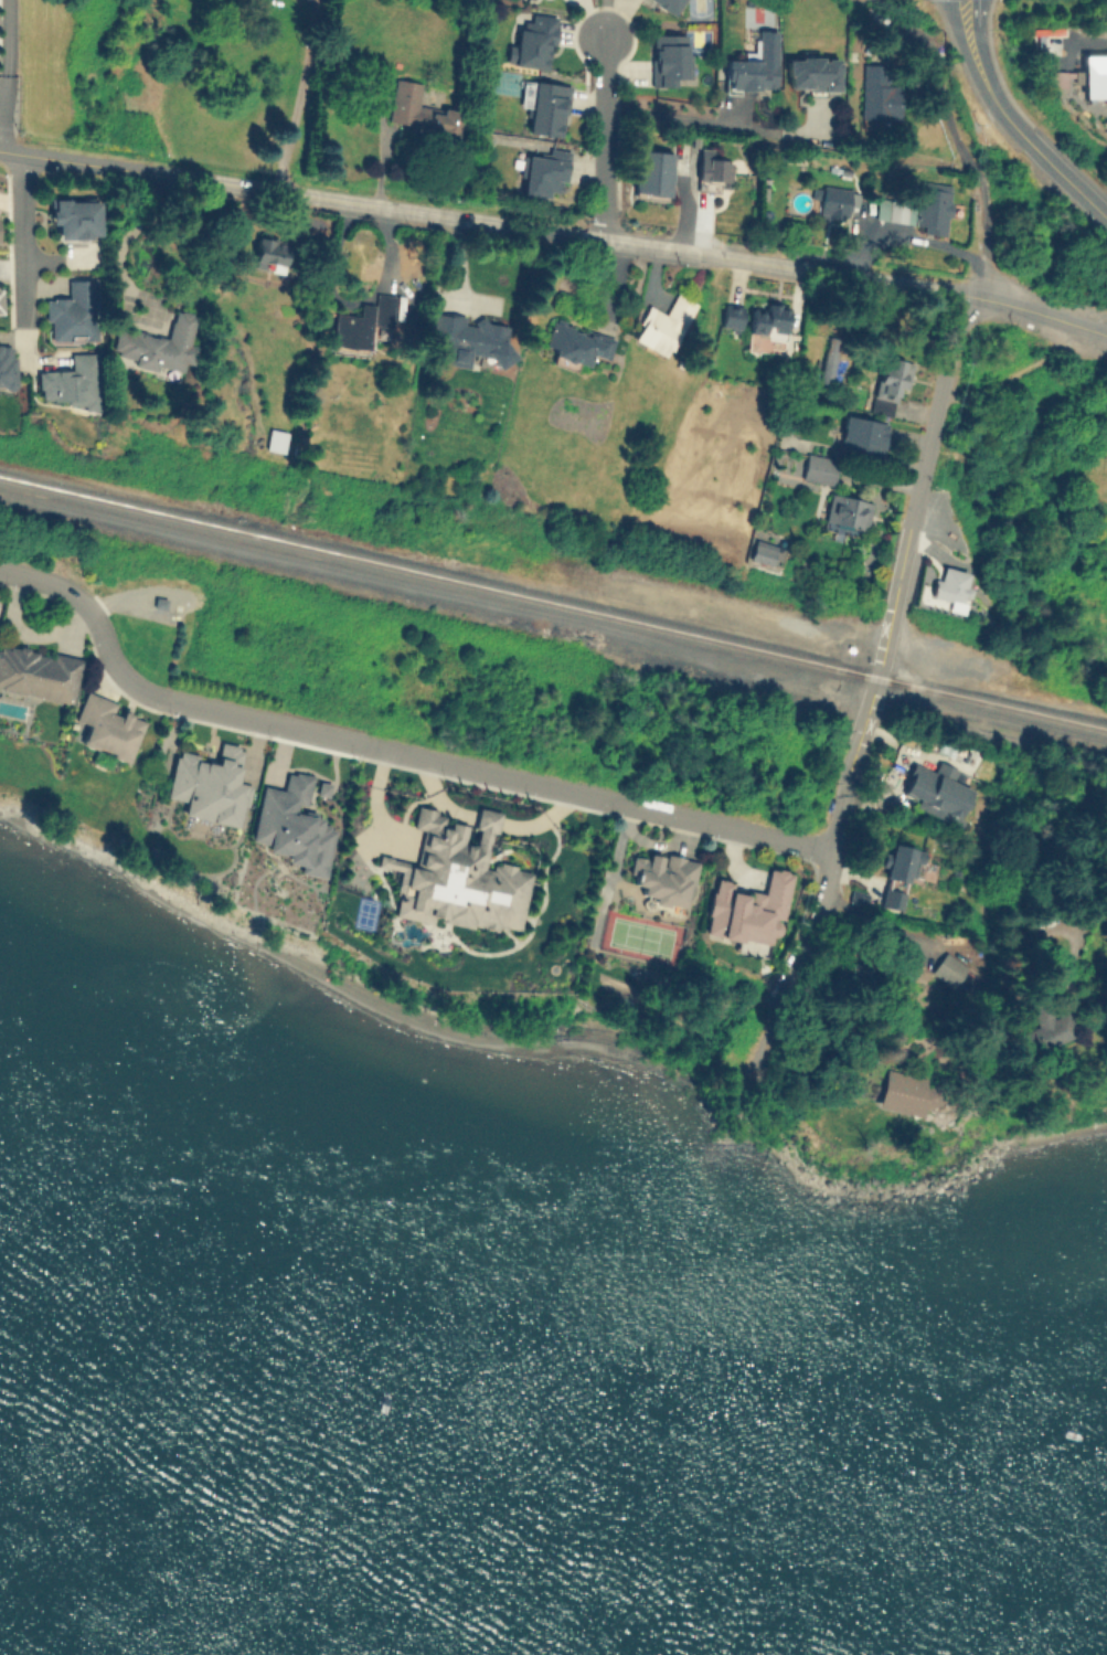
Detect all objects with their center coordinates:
building: (668, 4)
building: (532, 42)
building: (668, 57)
road: (7, 59)
building: (753, 64)
building: (810, 73)
road: (981, 78)
building: (877, 94)
road: (296, 102)
building: (544, 105)
building: (418, 109)
road: (711, 124)
road: (603, 135)
building: (711, 169)
building: (652, 171)
building: (544, 172)
road: (1067, 183)
building: (834, 200)
building: (916, 208)
building: (73, 216)
road: (555, 231)
road: (23, 235)
road: (124, 237)
building: (267, 253)
building: (0, 304)
building: (381, 306)
building: (72, 311)
building: (731, 316)
building: (767, 319)
building: (662, 325)
building: (353, 329)
building: (471, 336)
building: (577, 341)
building: (158, 346)
building: (828, 361)
building: (7, 363)
building: (72, 380)
building: (890, 383)
building: (862, 435)
building: (275, 439)
building: (818, 468)
building: (847, 511)
building: (760, 551)
road: (900, 577)
building: (949, 585)
railway: (553, 603)
building: (39, 672)
building: (107, 725)
road: (990, 730)
road: (392, 747)
building: (209, 784)
building: (321, 788)
building: (935, 791)
building: (291, 826)
building: (900, 861)
building: (458, 876)
building: (661, 878)
building: (856, 897)
building: (891, 899)
building: (746, 908)
building: (945, 967)
building: (1042, 1031)
building: (904, 1092)
river: (54, 1637)

